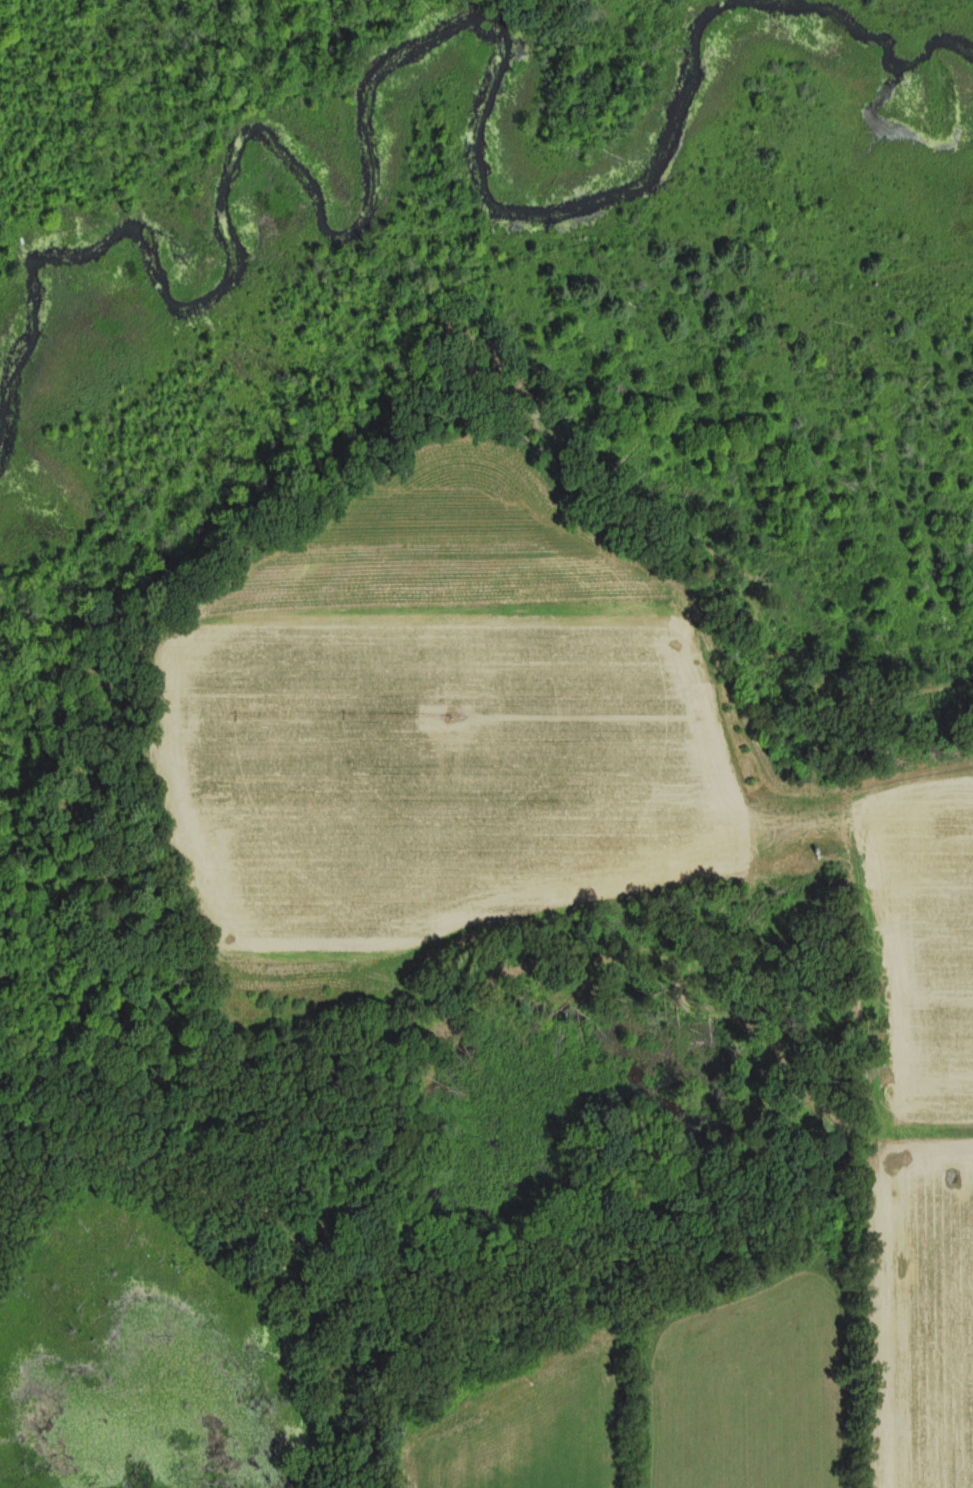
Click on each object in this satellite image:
crop: (443, 721)
crop: (920, 1146)

